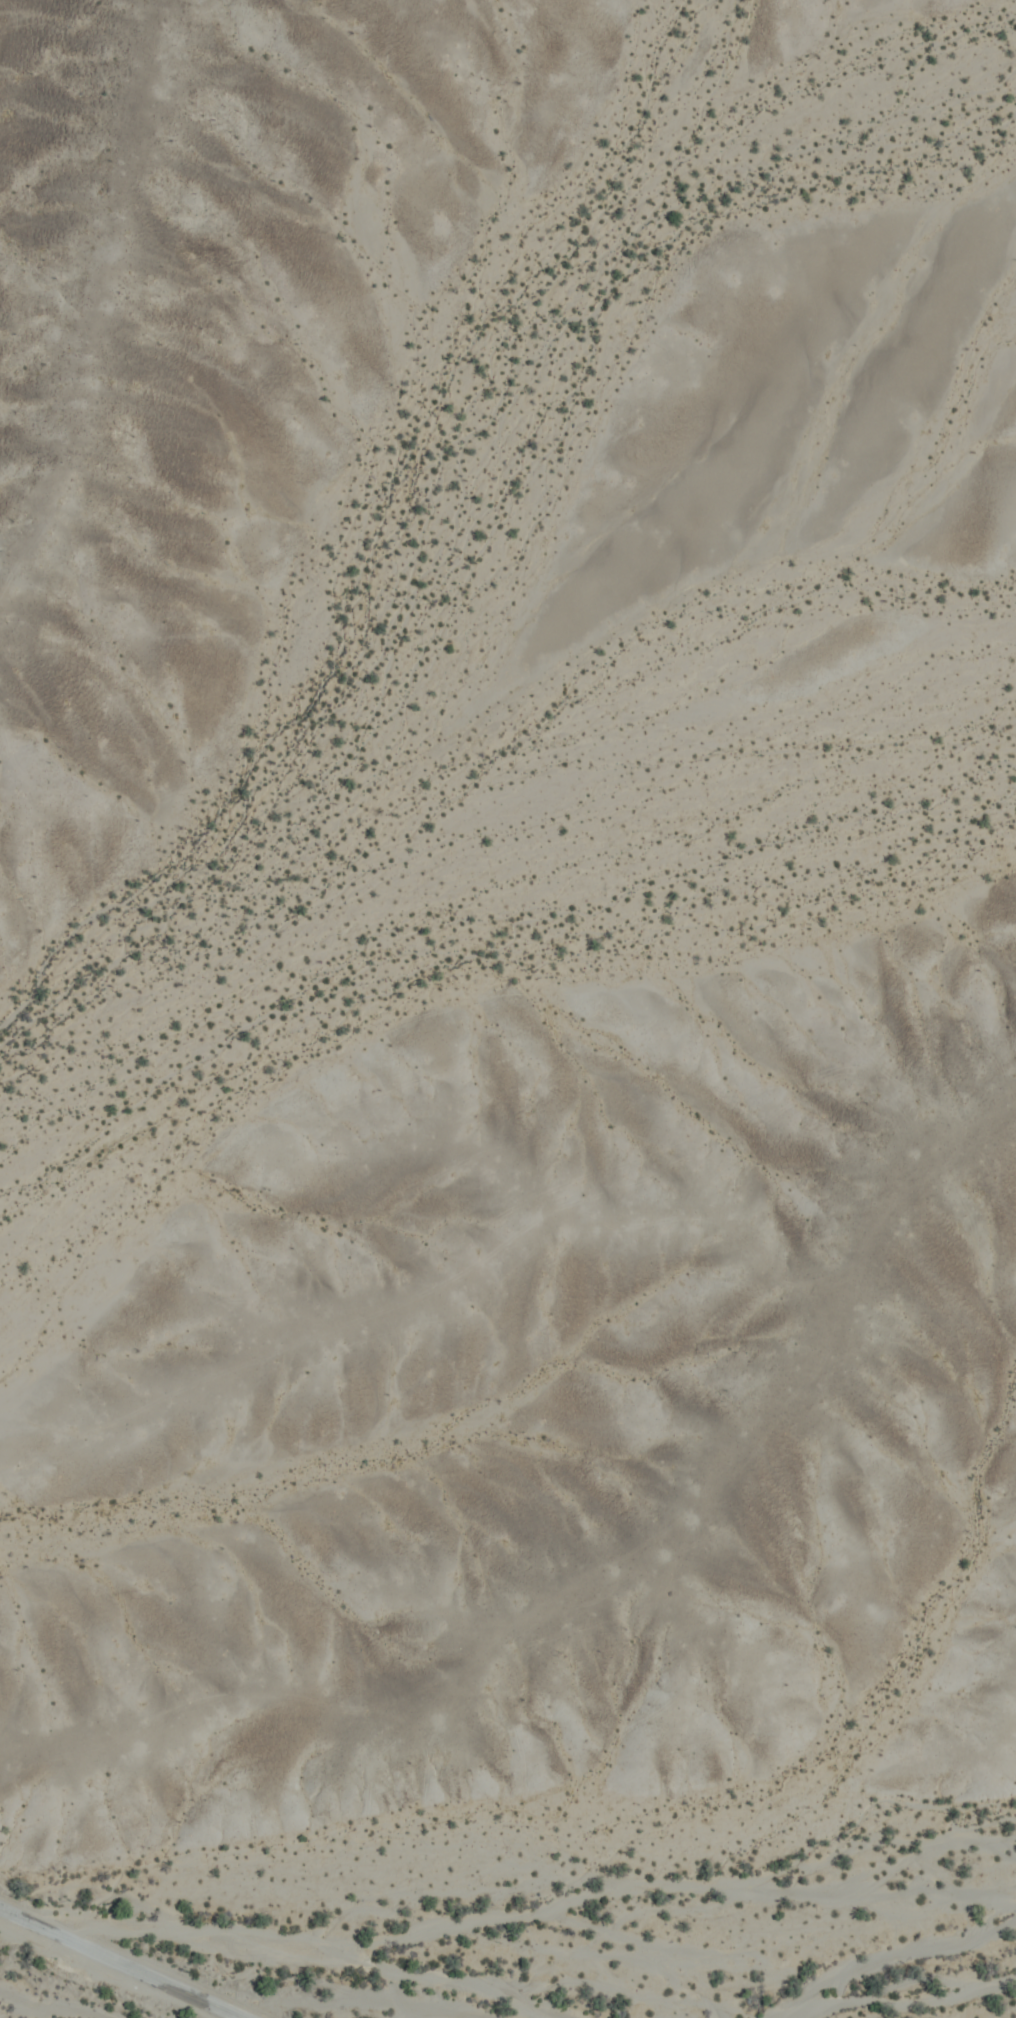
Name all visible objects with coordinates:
road: (118, 1964)

